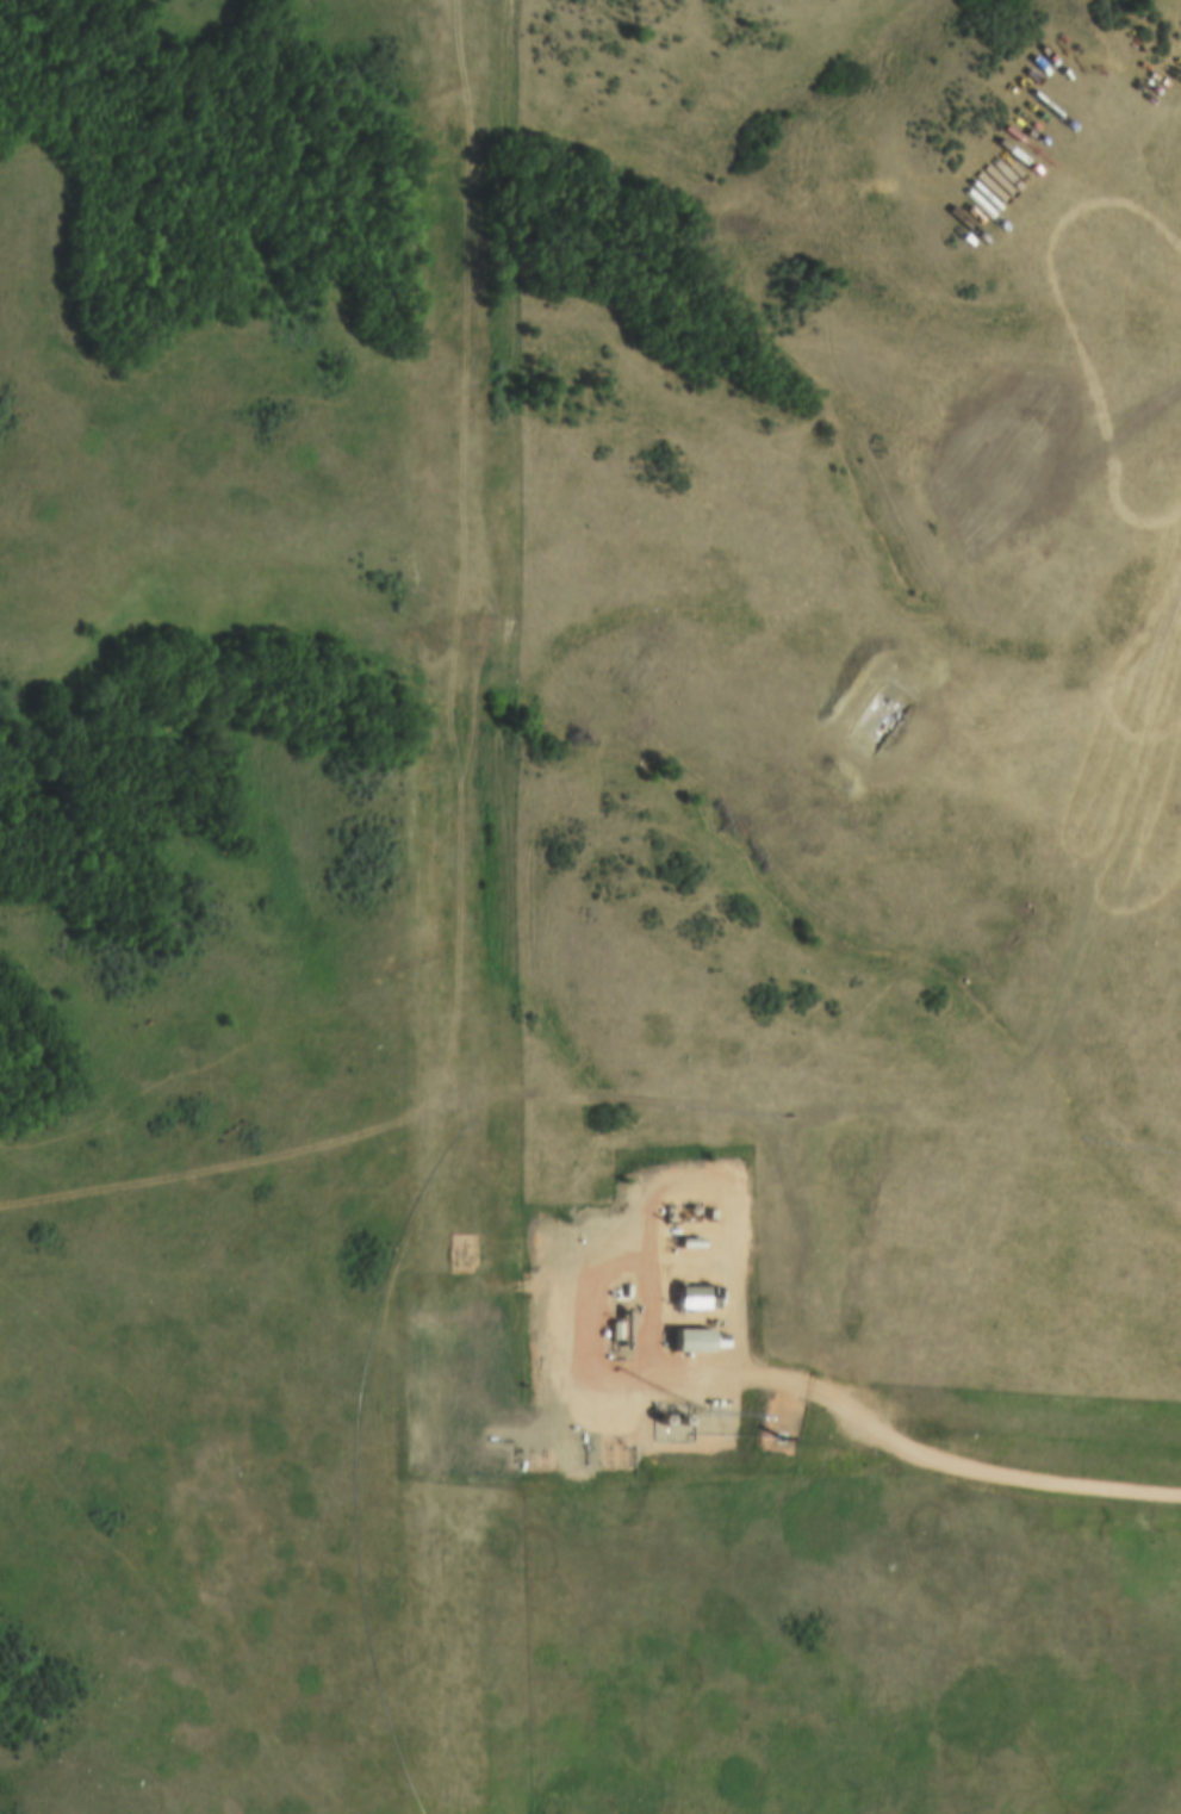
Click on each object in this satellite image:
building: (684, 1288)
building: (688, 1338)
road: (931, 1454)

